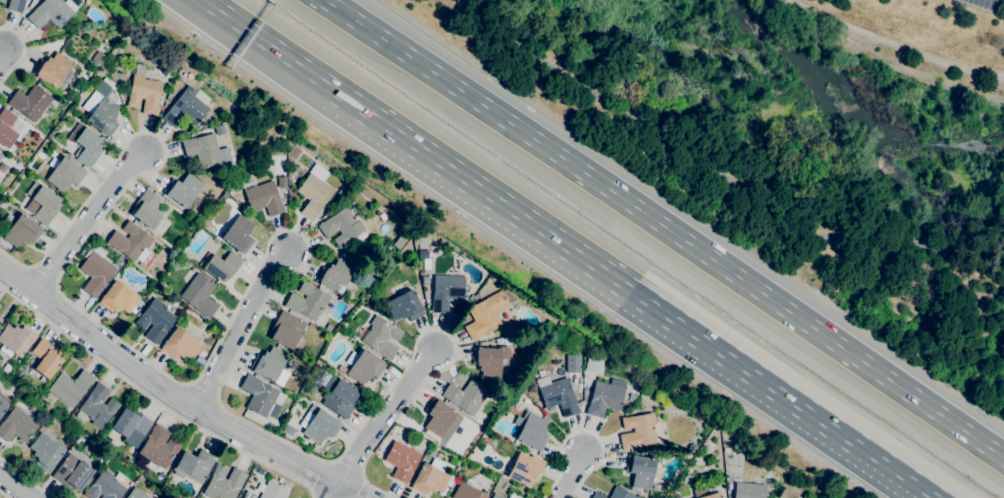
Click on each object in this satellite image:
building: (2, 1)
building: (15, 5)
building: (51, 12)
road: (893, 43)
road: (270, 44)
road: (2, 52)
road: (23, 52)
building: (98, 57)
building: (52, 69)
building: (145, 94)
river: (846, 100)
building: (30, 102)
building: (186, 107)
building: (102, 115)
building: (6, 128)
building: (267, 137)
building: (85, 144)
building: (206, 151)
building: (0, 155)
building: (318, 172)
building: (65, 173)
road: (709, 173)
building: (281, 182)
building: (184, 191)
building: (313, 194)
building: (263, 197)
building: (43, 202)
building: (146, 209)
building: (381, 214)
road: (85, 220)
building: (341, 226)
road: (665, 227)
building: (22, 231)
building: (239, 234)
road: (275, 234)
building: (130, 240)
building: (220, 265)
road: (597, 265)
building: (95, 273)
building: (335, 275)
building: (446, 291)
building: (199, 295)
building: (119, 298)
building: (307, 300)
building: (404, 306)
building: (485, 315)
building: (155, 320)
building: (328, 327)
road: (238, 328)
building: (287, 329)
building: (381, 337)
building: (15, 340)
building: (179, 344)
building: (46, 358)
building: (489, 361)
building: (573, 362)
building: (594, 364)
building: (270, 365)
building: (363, 366)
building: (512, 369)
building: (70, 387)
road: (160, 388)
building: (636, 388)
building: (258, 395)
building: (557, 395)
building: (466, 396)
building: (340, 397)
building: (605, 397)
building: (631, 397)
road: (152, 399)
building: (3, 403)
building: (96, 406)
building: (273, 410)
road: (383, 416)
building: (441, 419)
building: (131, 423)
building: (17, 425)
building: (319, 425)
building: (530, 430)
road: (585, 431)
building: (637, 431)
building: (158, 446)
building: (692, 447)
building: (45, 452)
building: (401, 461)
building: (193, 466)
building: (525, 469)
building: (640, 470)
road: (899, 470)
building: (71, 472)
road: (572, 475)
building: (118, 476)
road: (320, 477)
road: (26, 478)
building: (429, 479)
building: (223, 483)
building: (104, 486)
road: (13, 487)
road: (360, 488)
building: (749, 490)
building: (273, 491)
road: (333, 491)
road: (349, 491)
building: (707, 491)
building: (467, 492)
building: (135, 493)
building: (620, 493)
road: (4, 494)
building: (596, 495)
road: (315, 496)
building: (496, 496)
building: (511, 496)
building: (677, 496)

